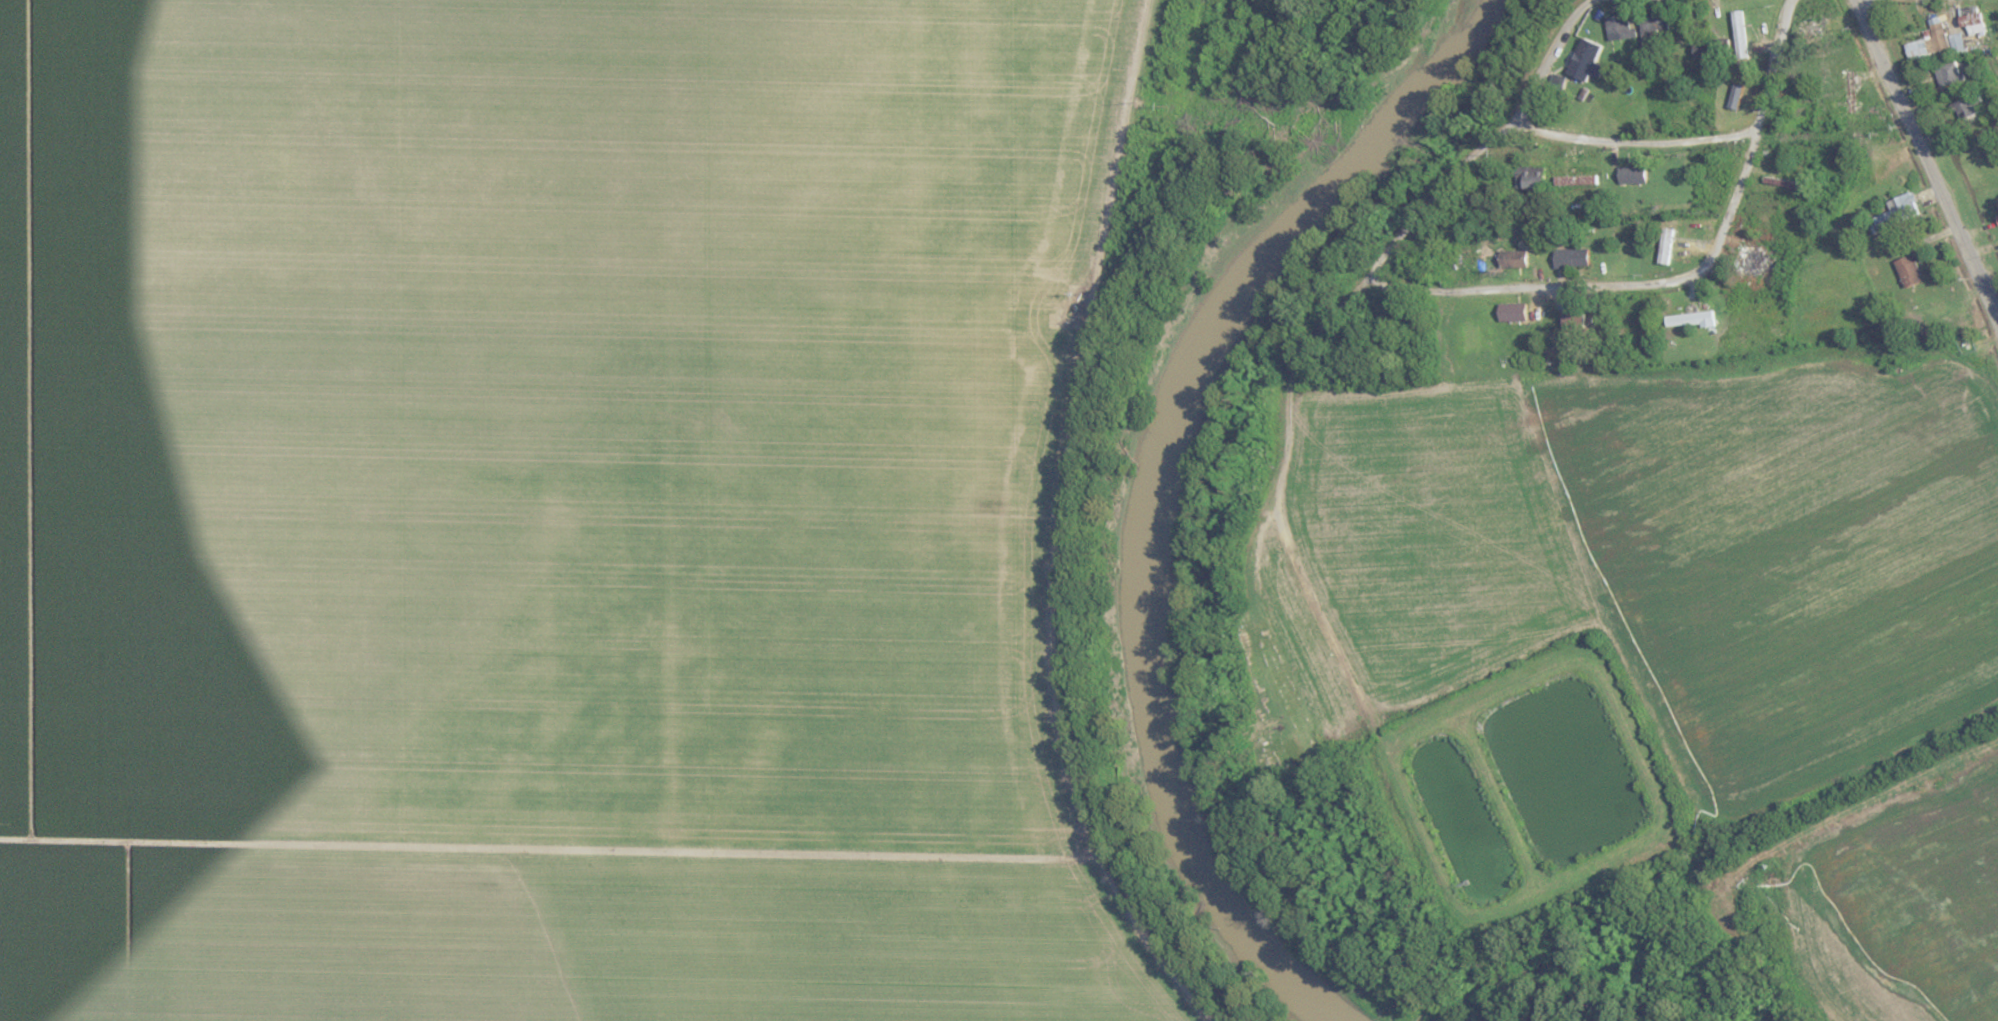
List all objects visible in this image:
road: (1864, 2)
building: (1651, 21)
building: (1613, 28)
building: (1810, 30)
building: (1933, 37)
building: (1708, 50)
building: (1576, 63)
building: (1946, 74)
building: (1853, 89)
building: (1967, 103)
road: (1630, 139)
road: (1754, 139)
road: (1488, 142)
road: (1925, 163)
building: (1627, 172)
building: (1528, 178)
building: (1574, 180)
building: (1779, 182)
building: (1712, 188)
building: (1899, 206)
building: (1996, 207)
building: (1996, 220)
building: (1669, 245)
building: (1669, 254)
building: (1569, 258)
building: (1508, 260)
building: (1754, 260)
building: (1420, 267)
building: (1905, 267)
road: (1533, 285)
building: (1512, 309)
building: (1569, 313)
building: (1687, 319)

